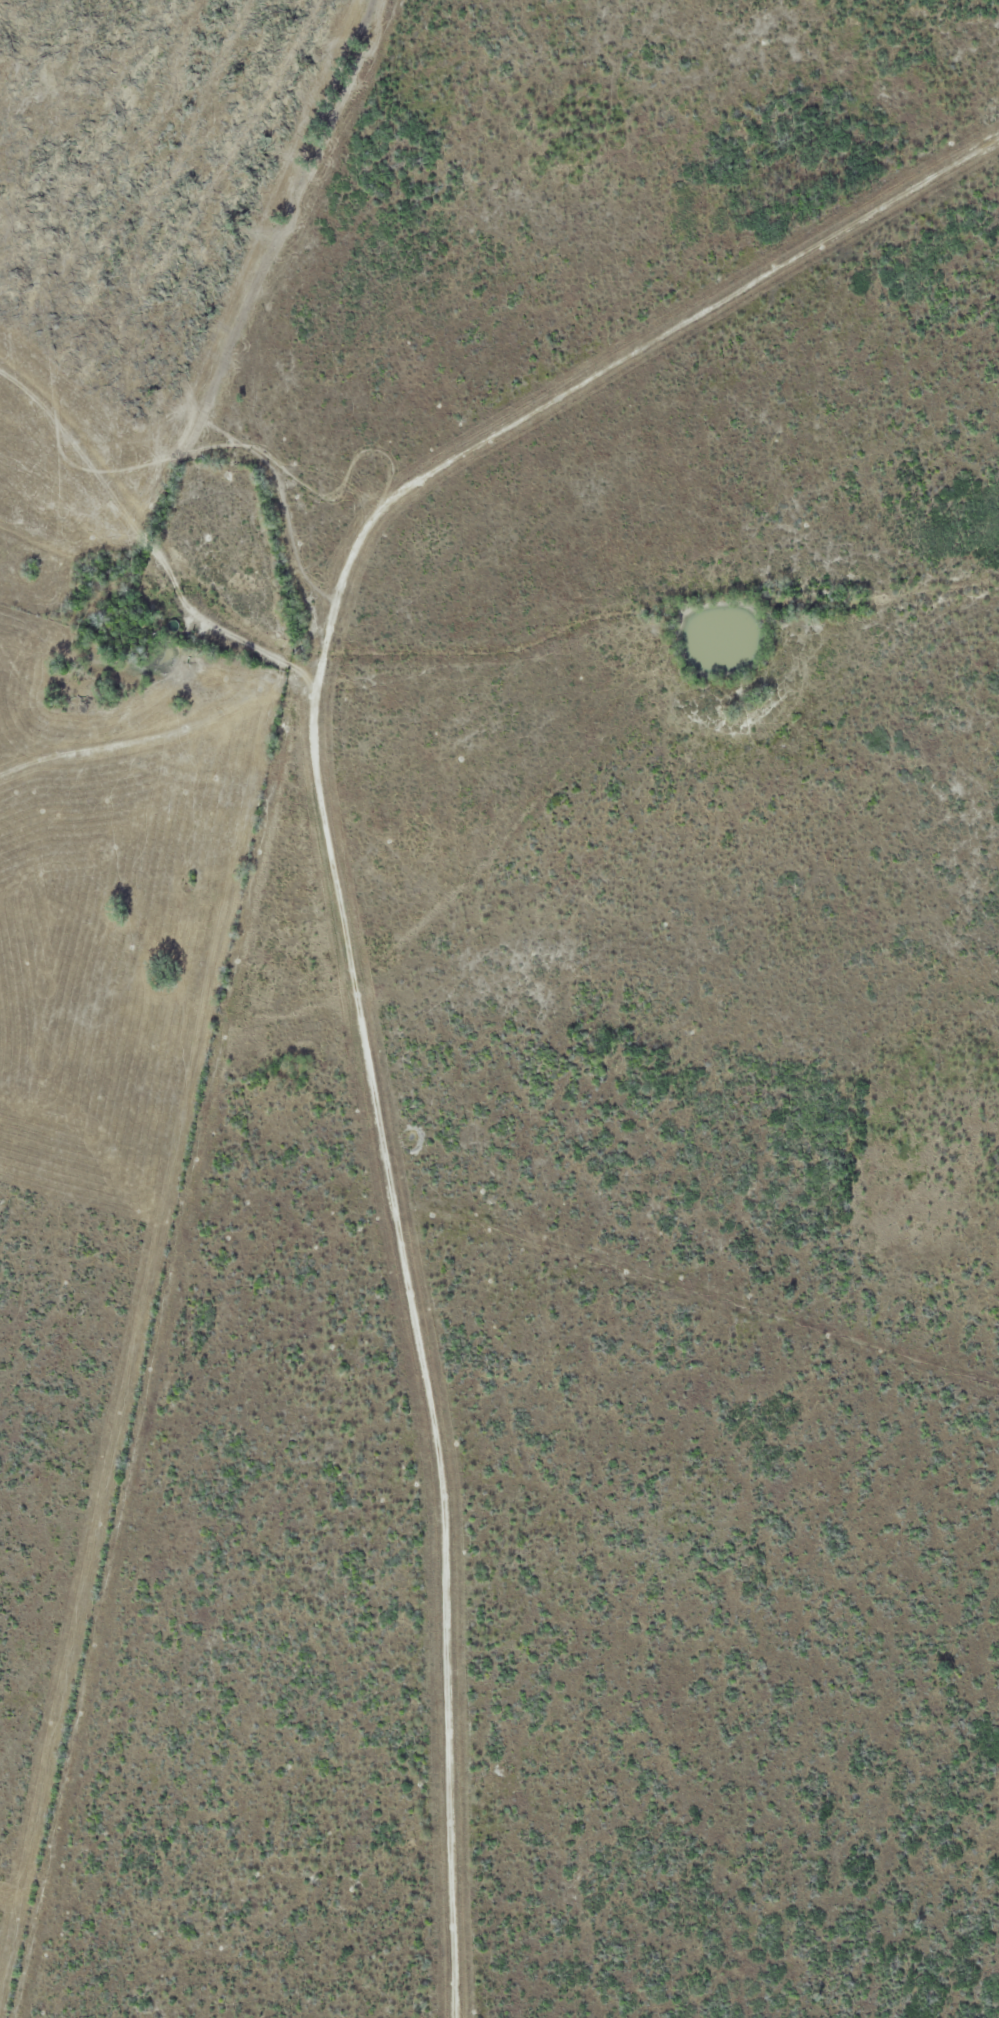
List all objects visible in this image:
road: (149, 564)
road: (341, 908)

